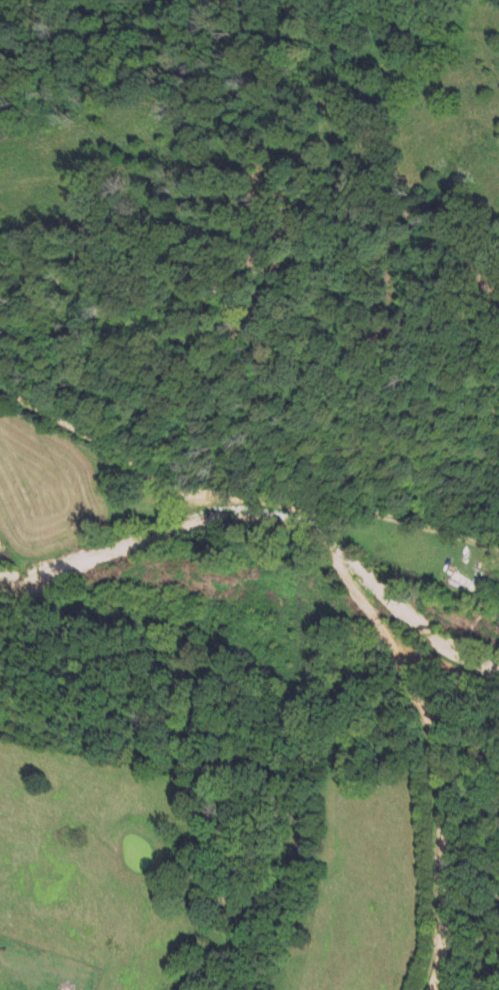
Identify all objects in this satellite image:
road: (398, 519)
road: (352, 584)

